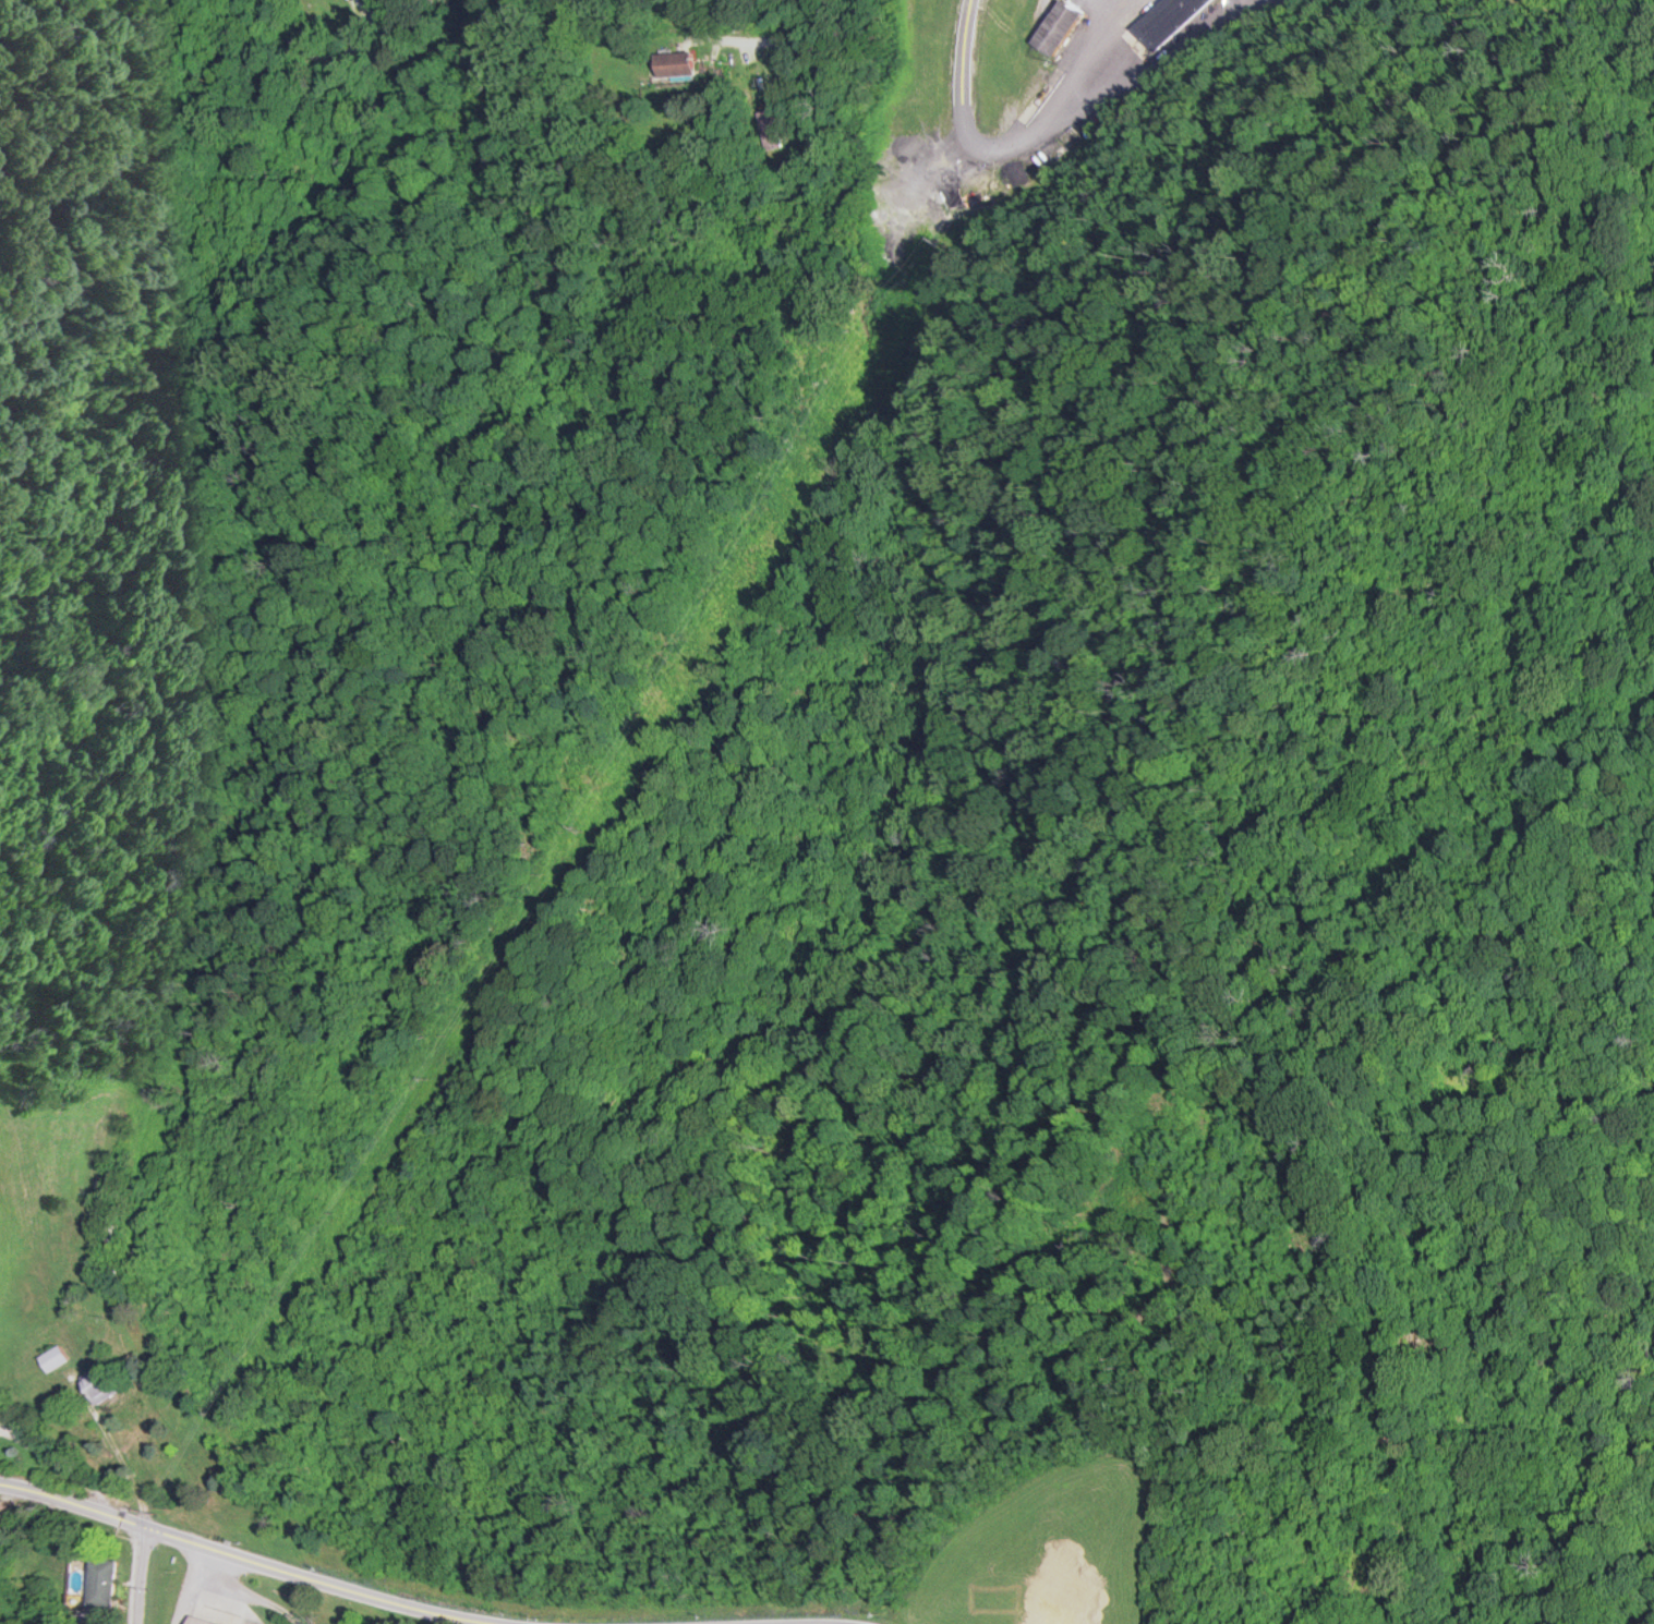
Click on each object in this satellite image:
building: (1167, 20)
building: (1058, 26)
road: (787, 40)
road: (334, 46)
building: (1131, 58)
building: (672, 63)
road: (971, 84)
building: (771, 126)
building: (50, 1358)
building: (96, 1386)
road: (258, 1562)
road: (143, 1574)
building: (105, 1583)
building: (201, 1621)
road: (814, 1622)

